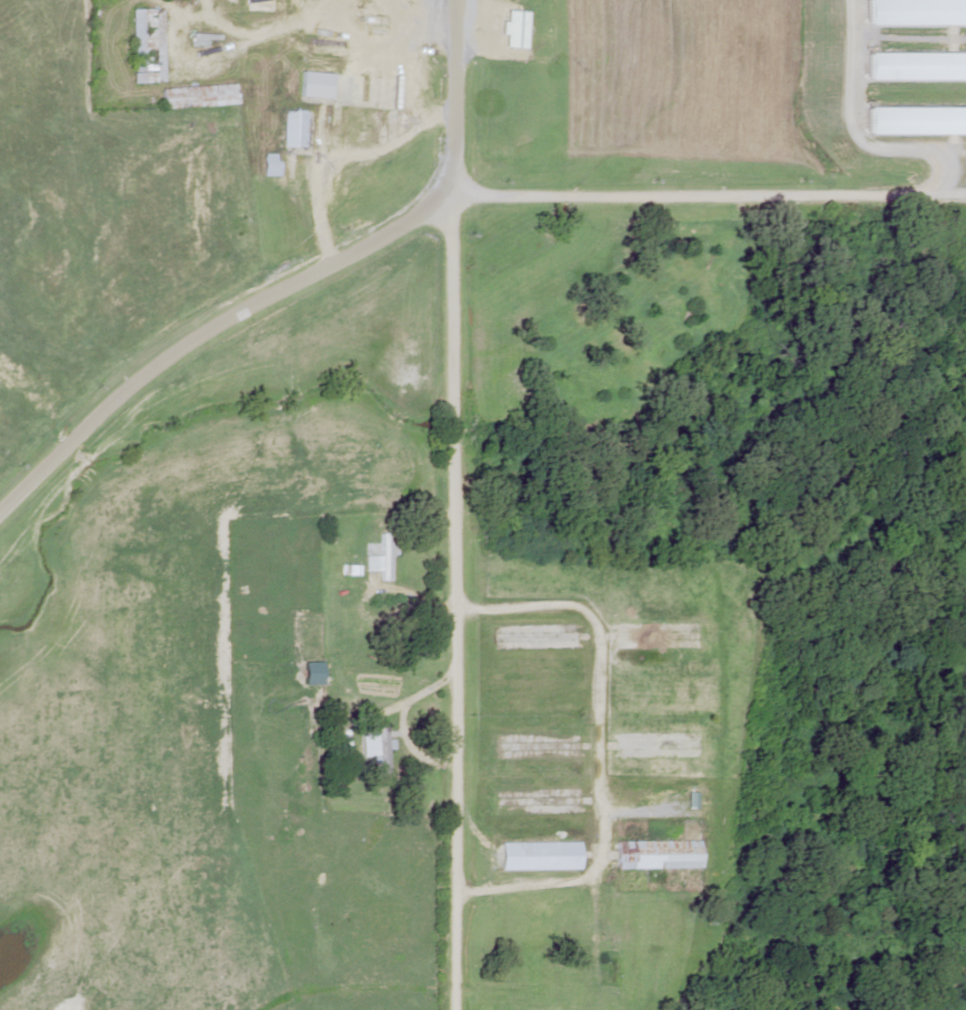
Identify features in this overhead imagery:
building: (914, 12)
building: (512, 29)
building: (146, 46)
building: (914, 66)
building: (314, 85)
building: (197, 96)
building: (914, 121)
building: (294, 129)
building: (270, 165)
road: (433, 190)
road: (455, 505)
building: (381, 557)
road: (598, 731)
building: (382, 750)
building: (691, 800)
building: (658, 854)
building: (540, 856)

